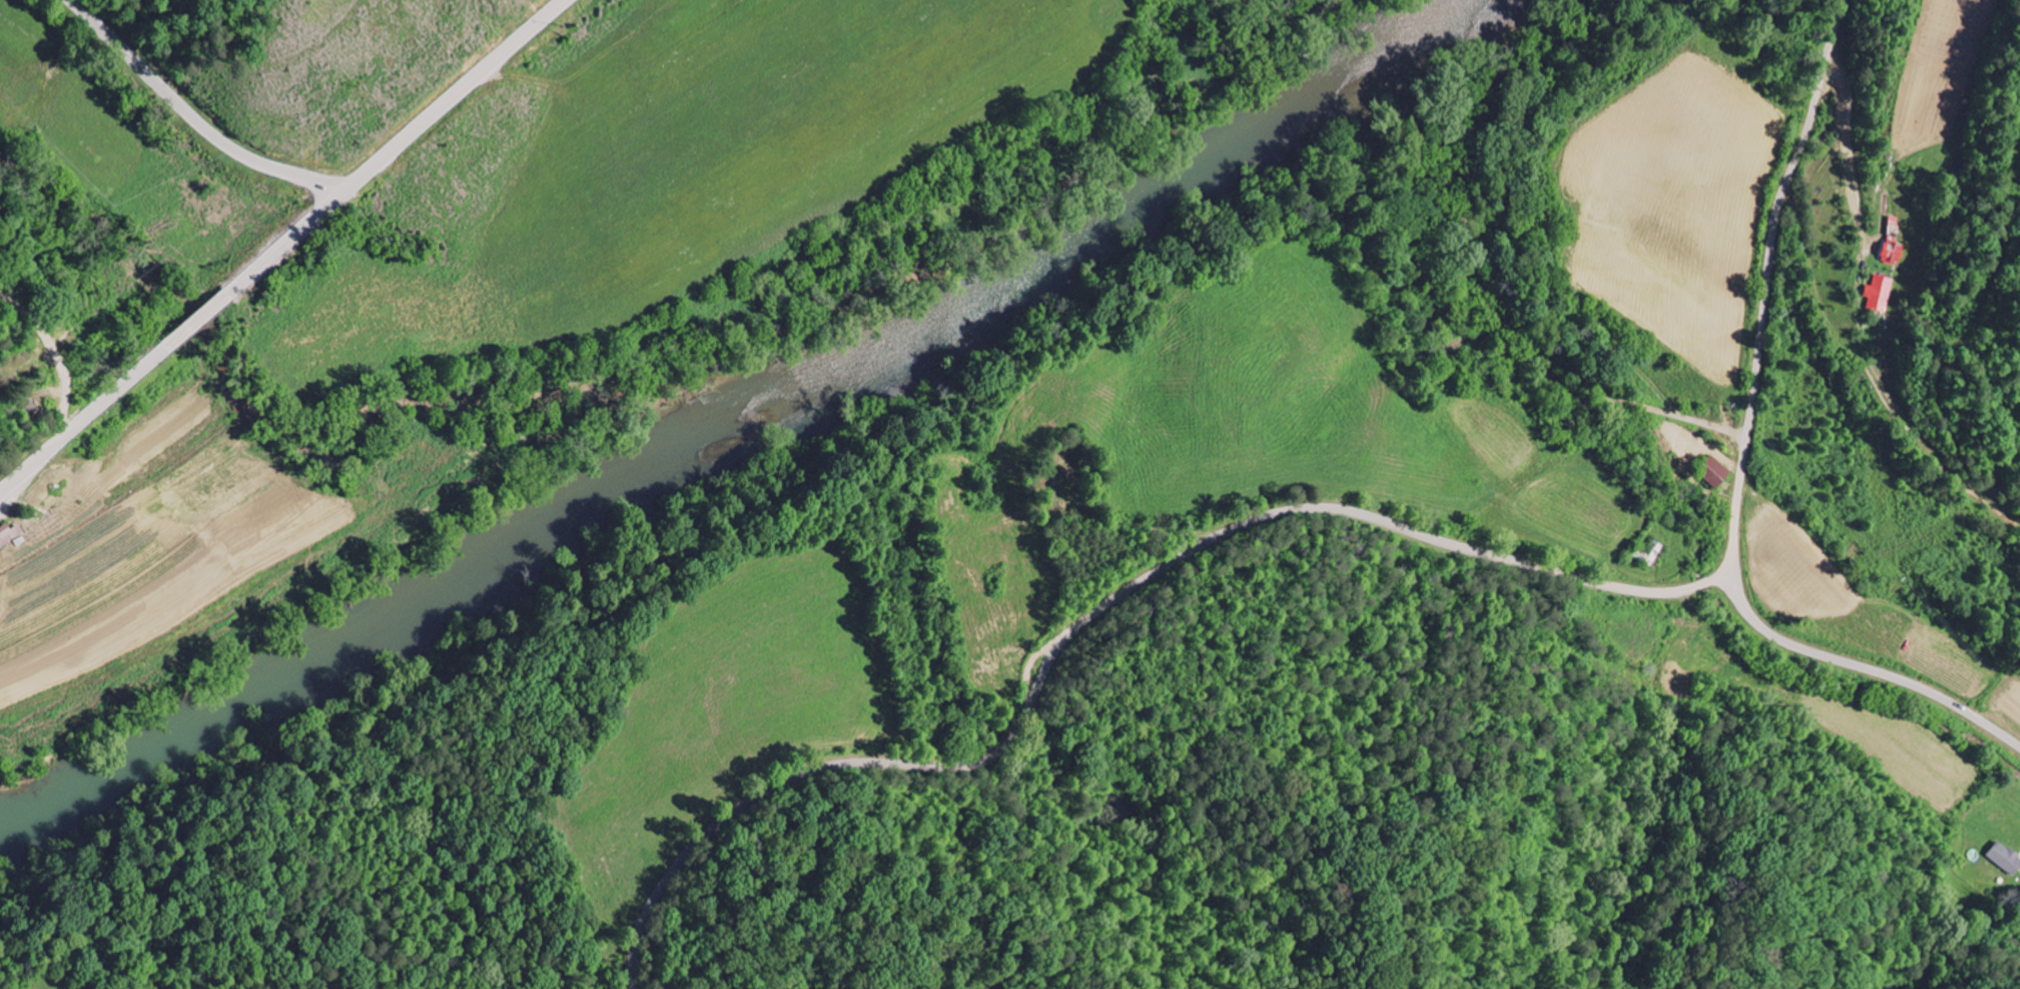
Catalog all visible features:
road: (193, 118)
road: (282, 247)
building: (1878, 293)
road: (190, 311)
road: (53, 357)
river: (743, 420)
building: (1709, 472)
road: (1371, 516)
building: (8, 533)
road: (1868, 670)
building: (2004, 858)

